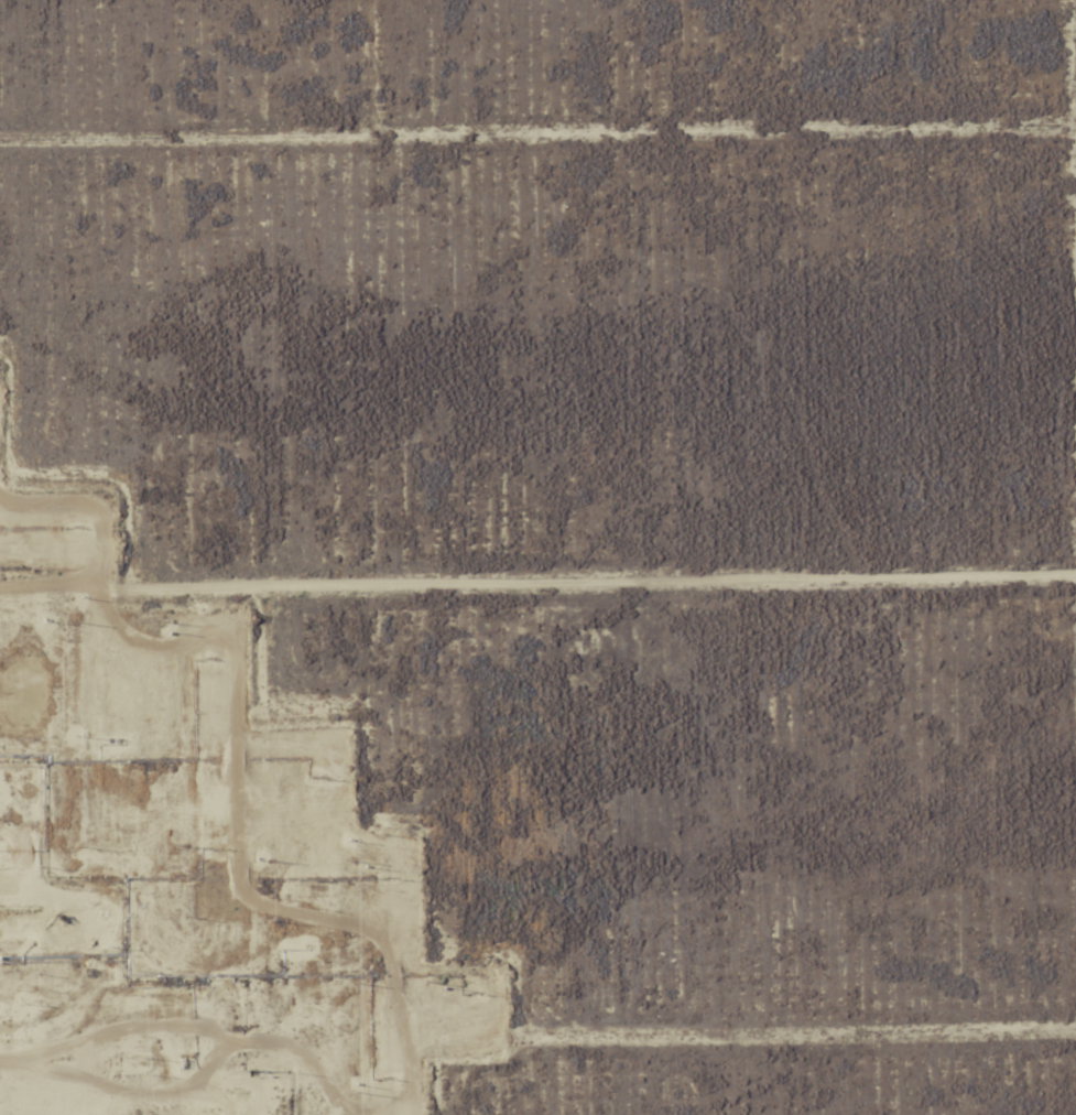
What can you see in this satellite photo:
road: (89, 1057)

